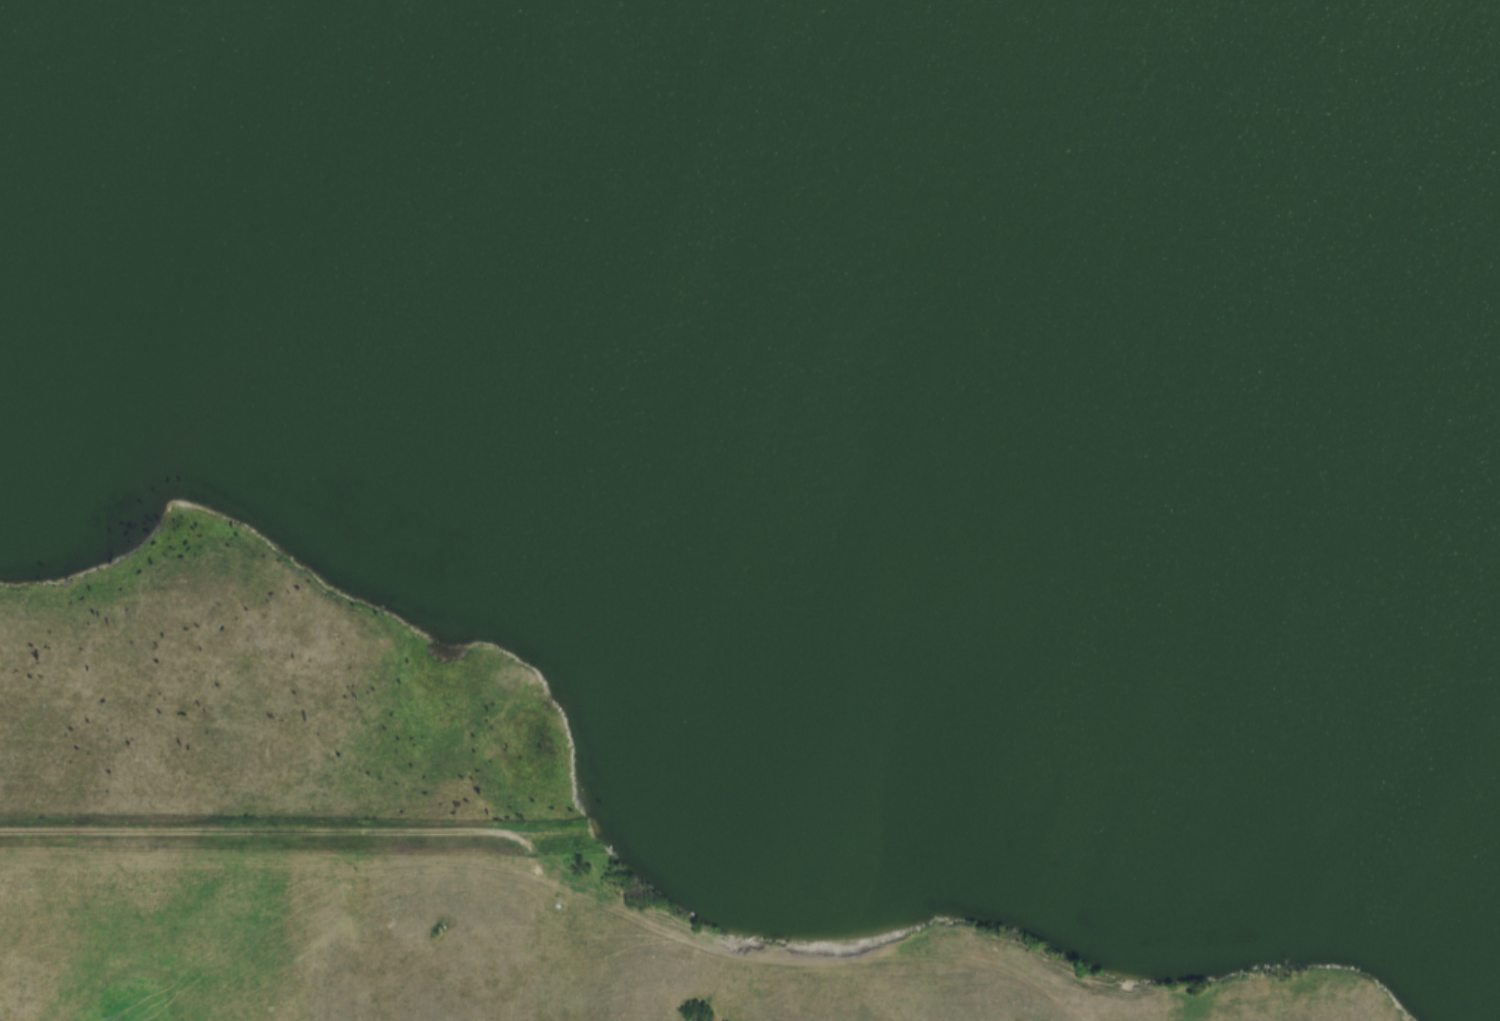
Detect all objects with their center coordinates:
road: (690, 938)

